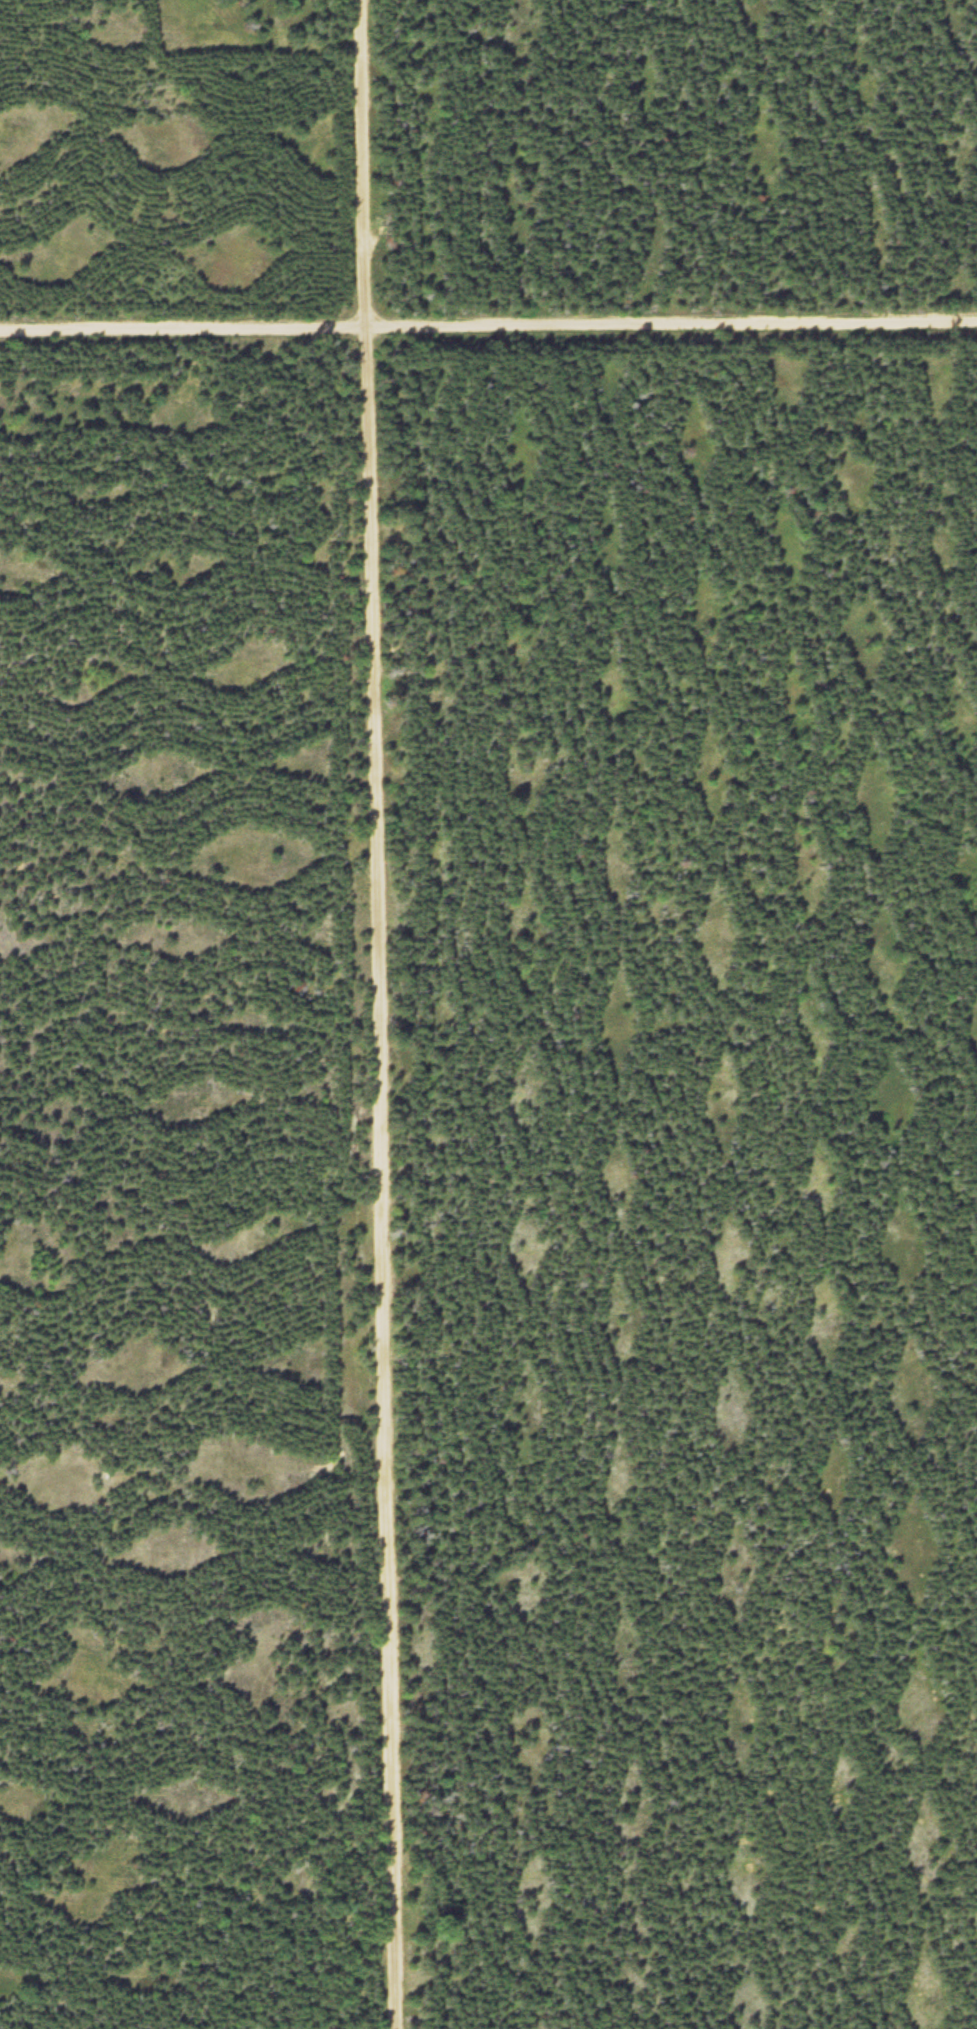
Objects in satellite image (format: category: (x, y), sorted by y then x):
park: (239, 28)
road: (488, 326)
road: (381, 1014)

